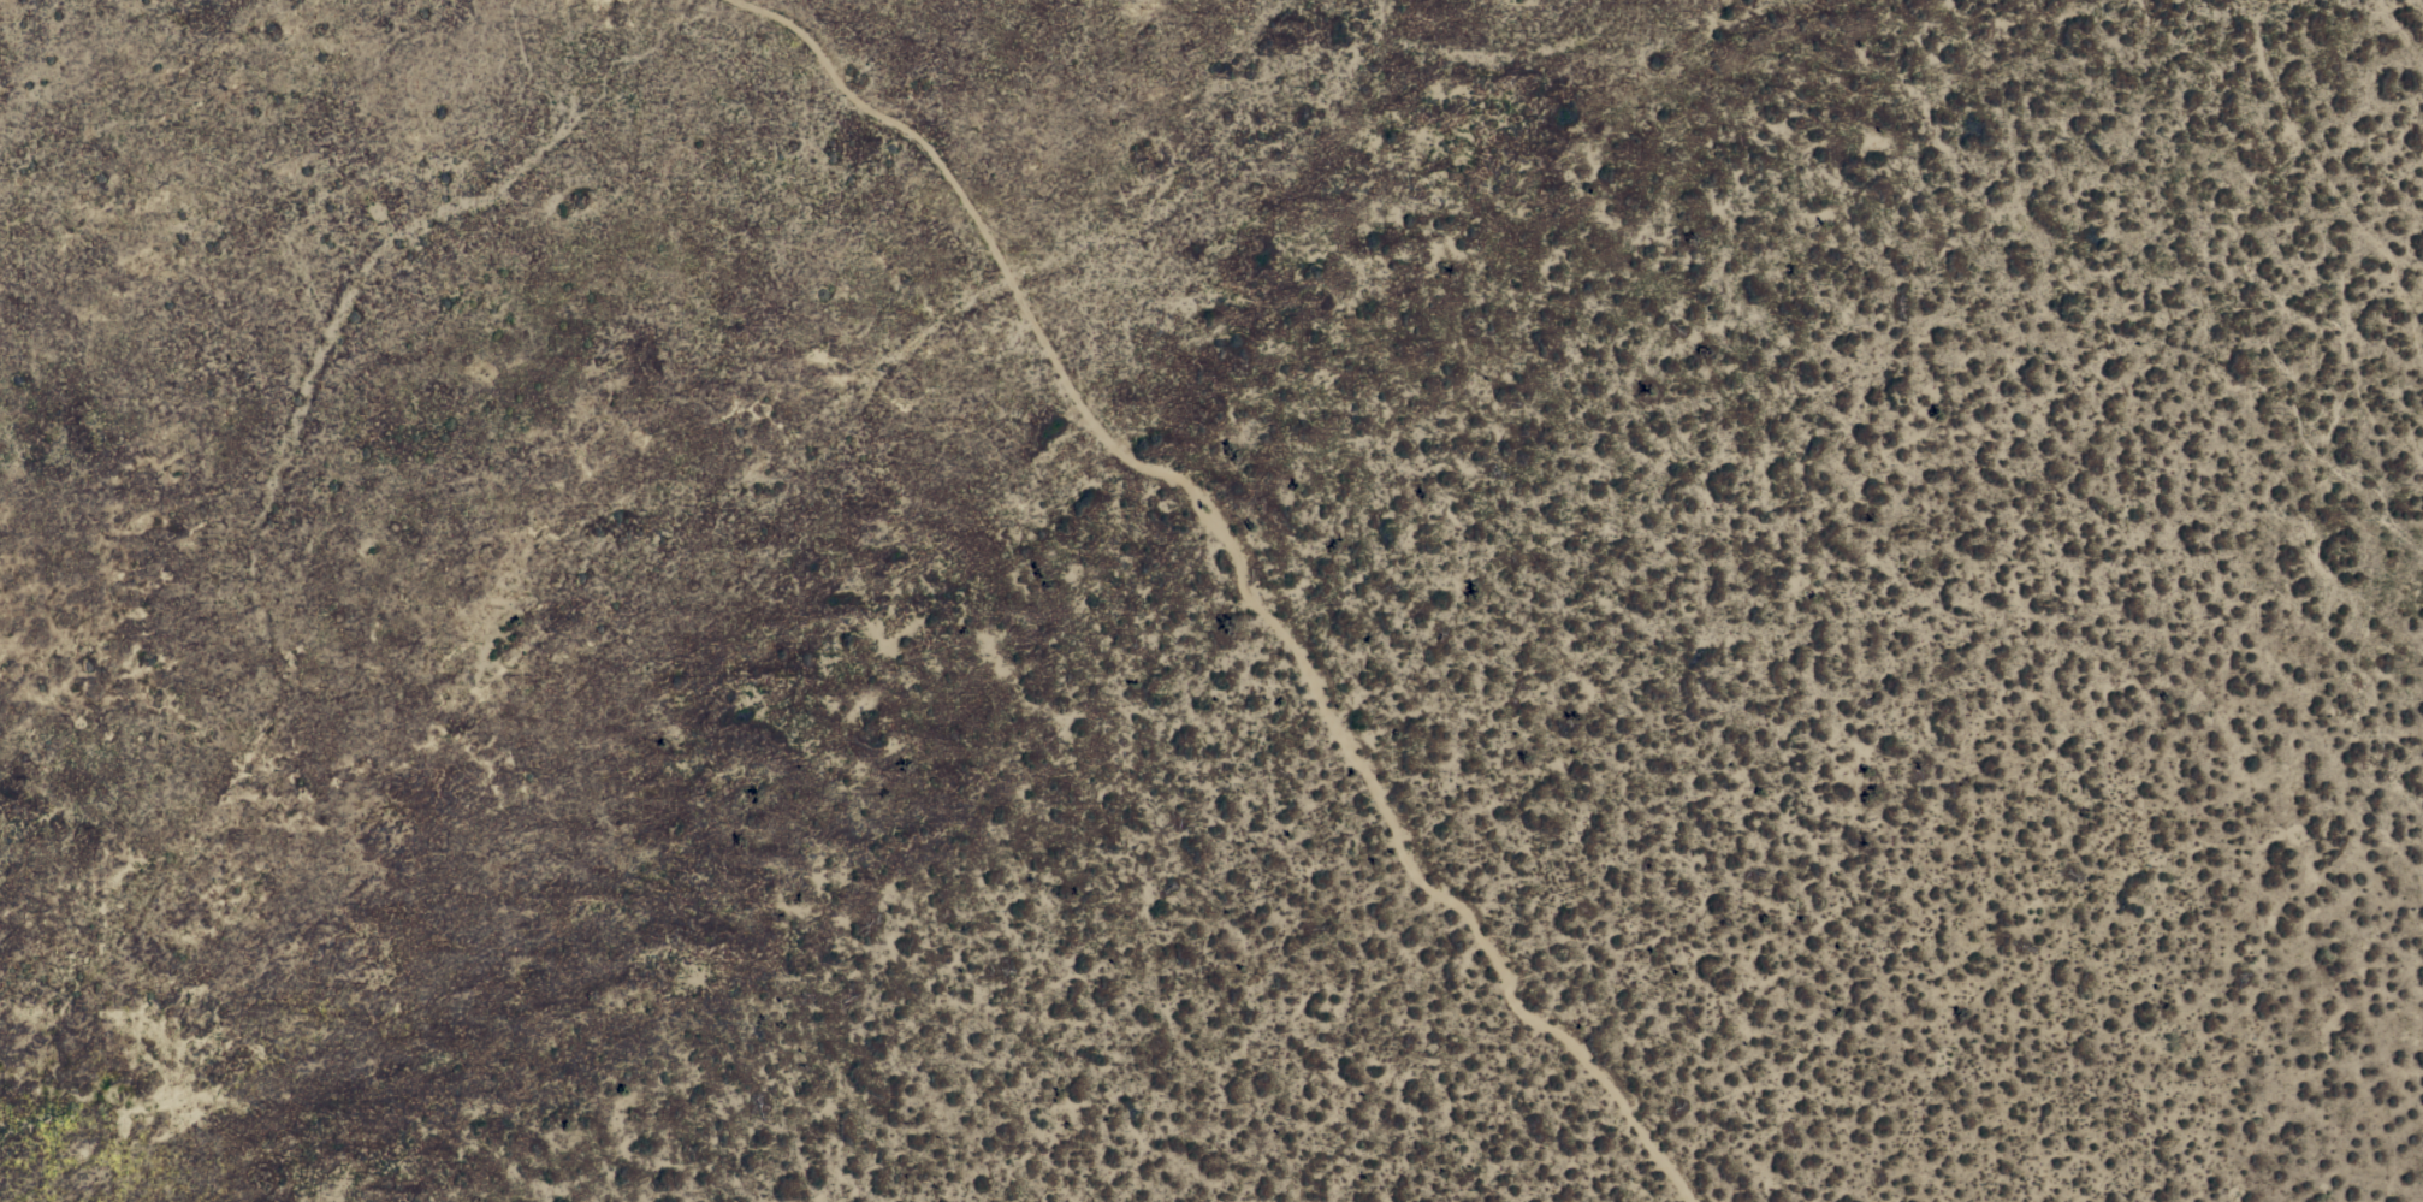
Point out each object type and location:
road: (1245, 572)

